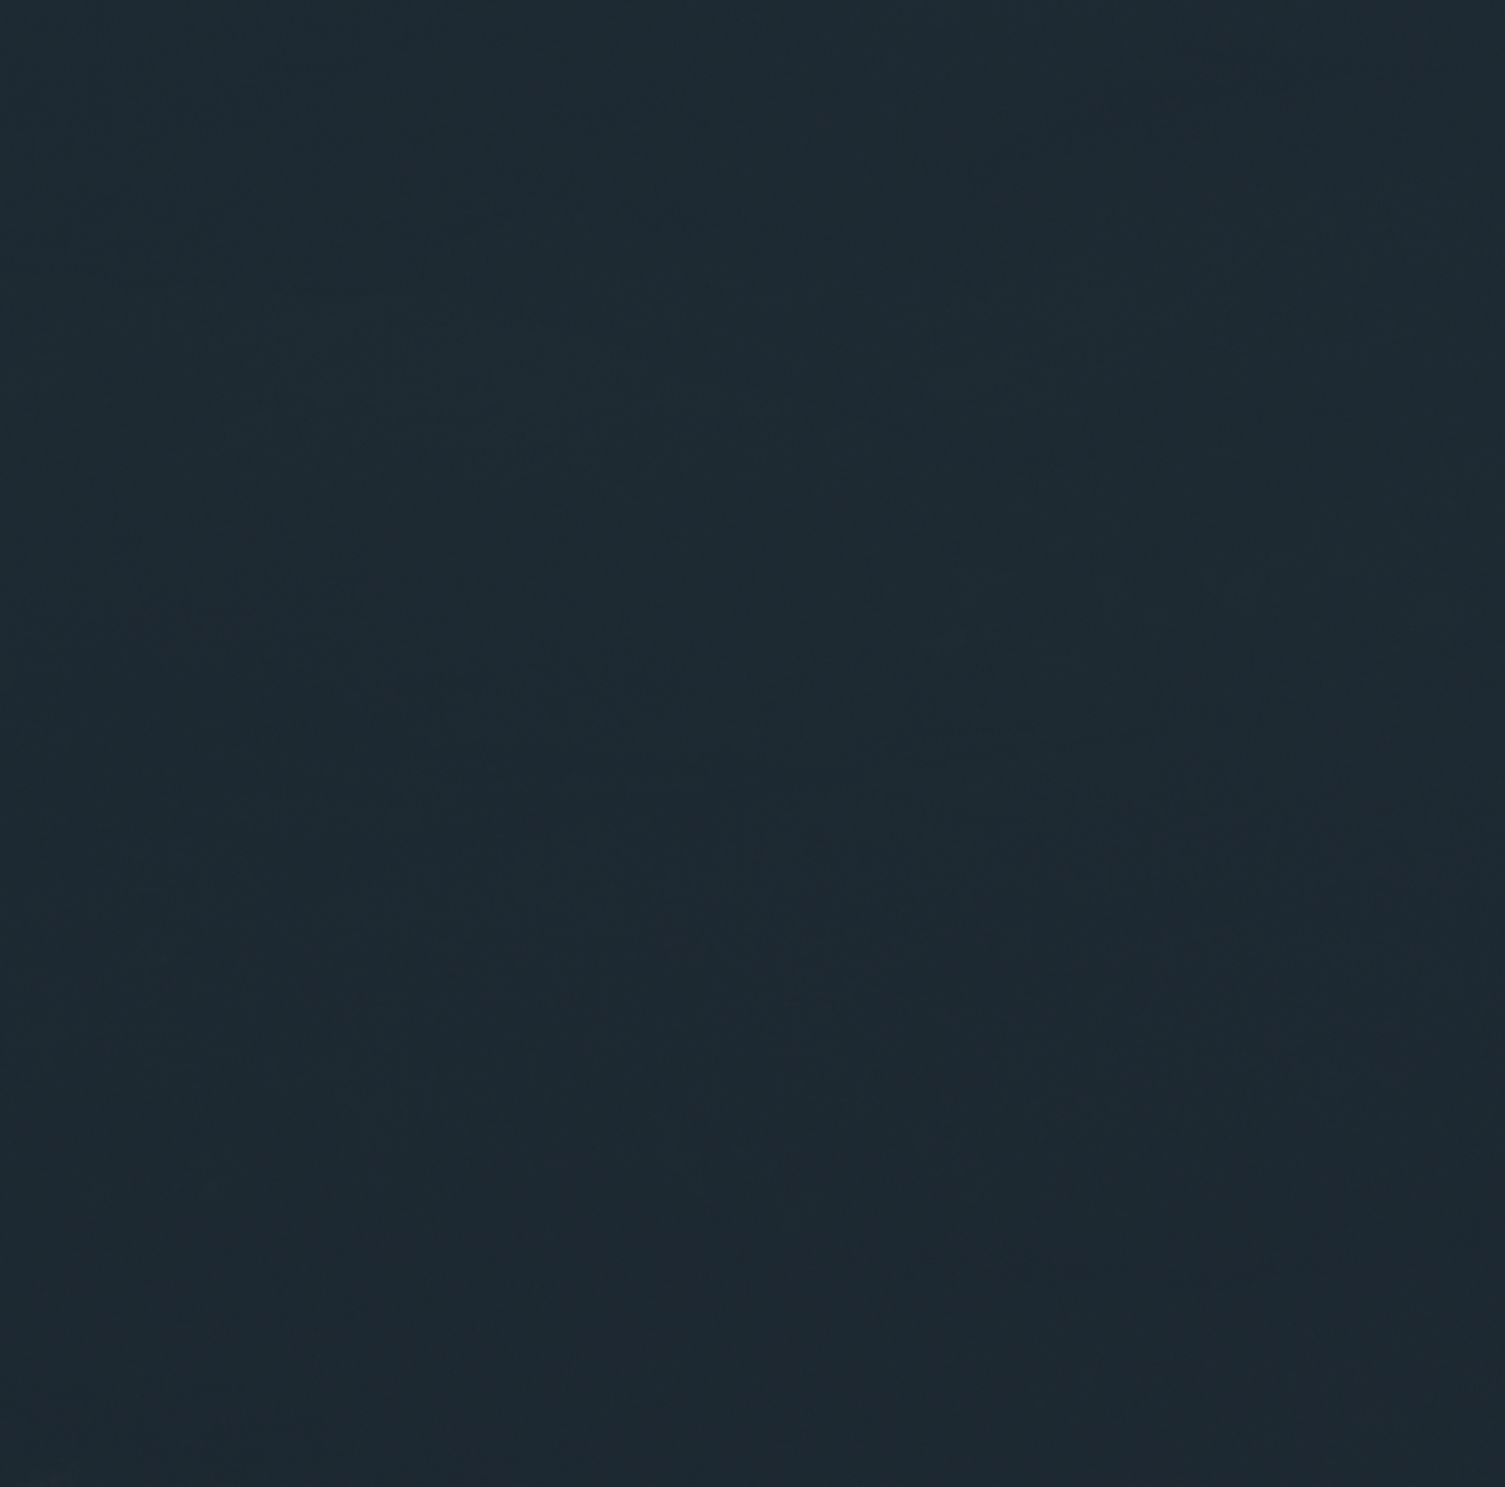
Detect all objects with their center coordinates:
river: (752, 1134)

